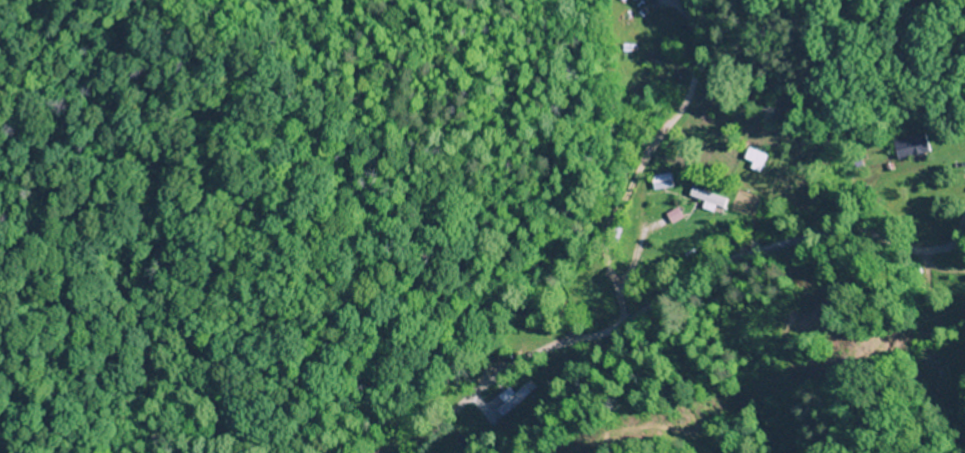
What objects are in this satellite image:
building: (622, 0)
building: (910, 147)
building: (658, 182)
building: (705, 198)
road: (683, 292)
building: (511, 399)

